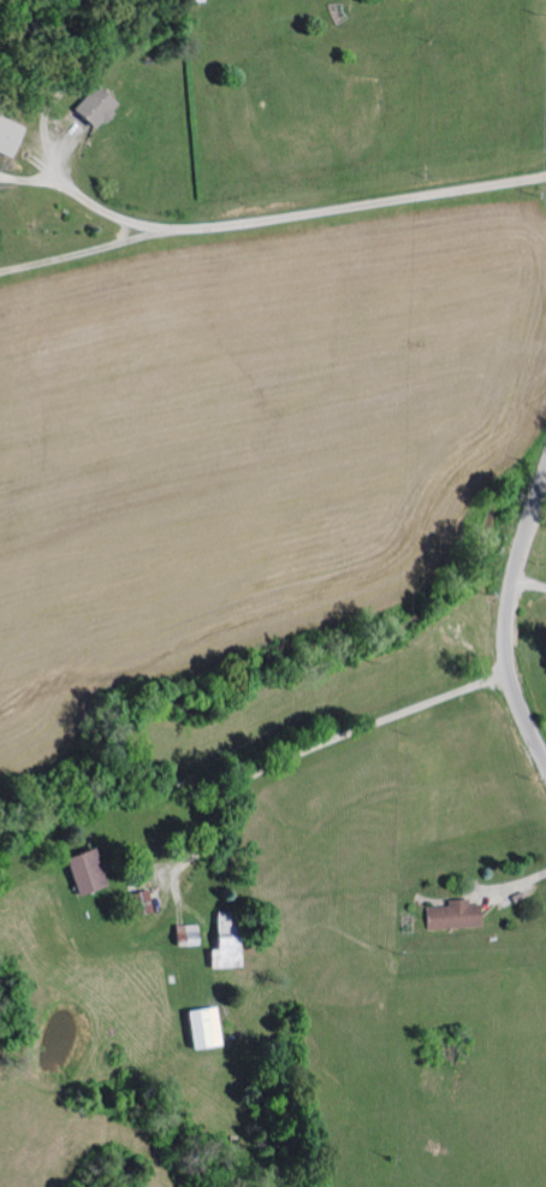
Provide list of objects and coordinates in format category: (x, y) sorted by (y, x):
building: (191, 0)
building: (91, 107)
building: (7, 137)
road: (84, 199)
road: (356, 208)
road: (83, 254)
road: (529, 583)
road: (510, 620)
road: (308, 754)
building: (79, 870)
building: (141, 902)
building: (451, 915)
building: (186, 933)
building: (224, 941)
building: (200, 1027)

